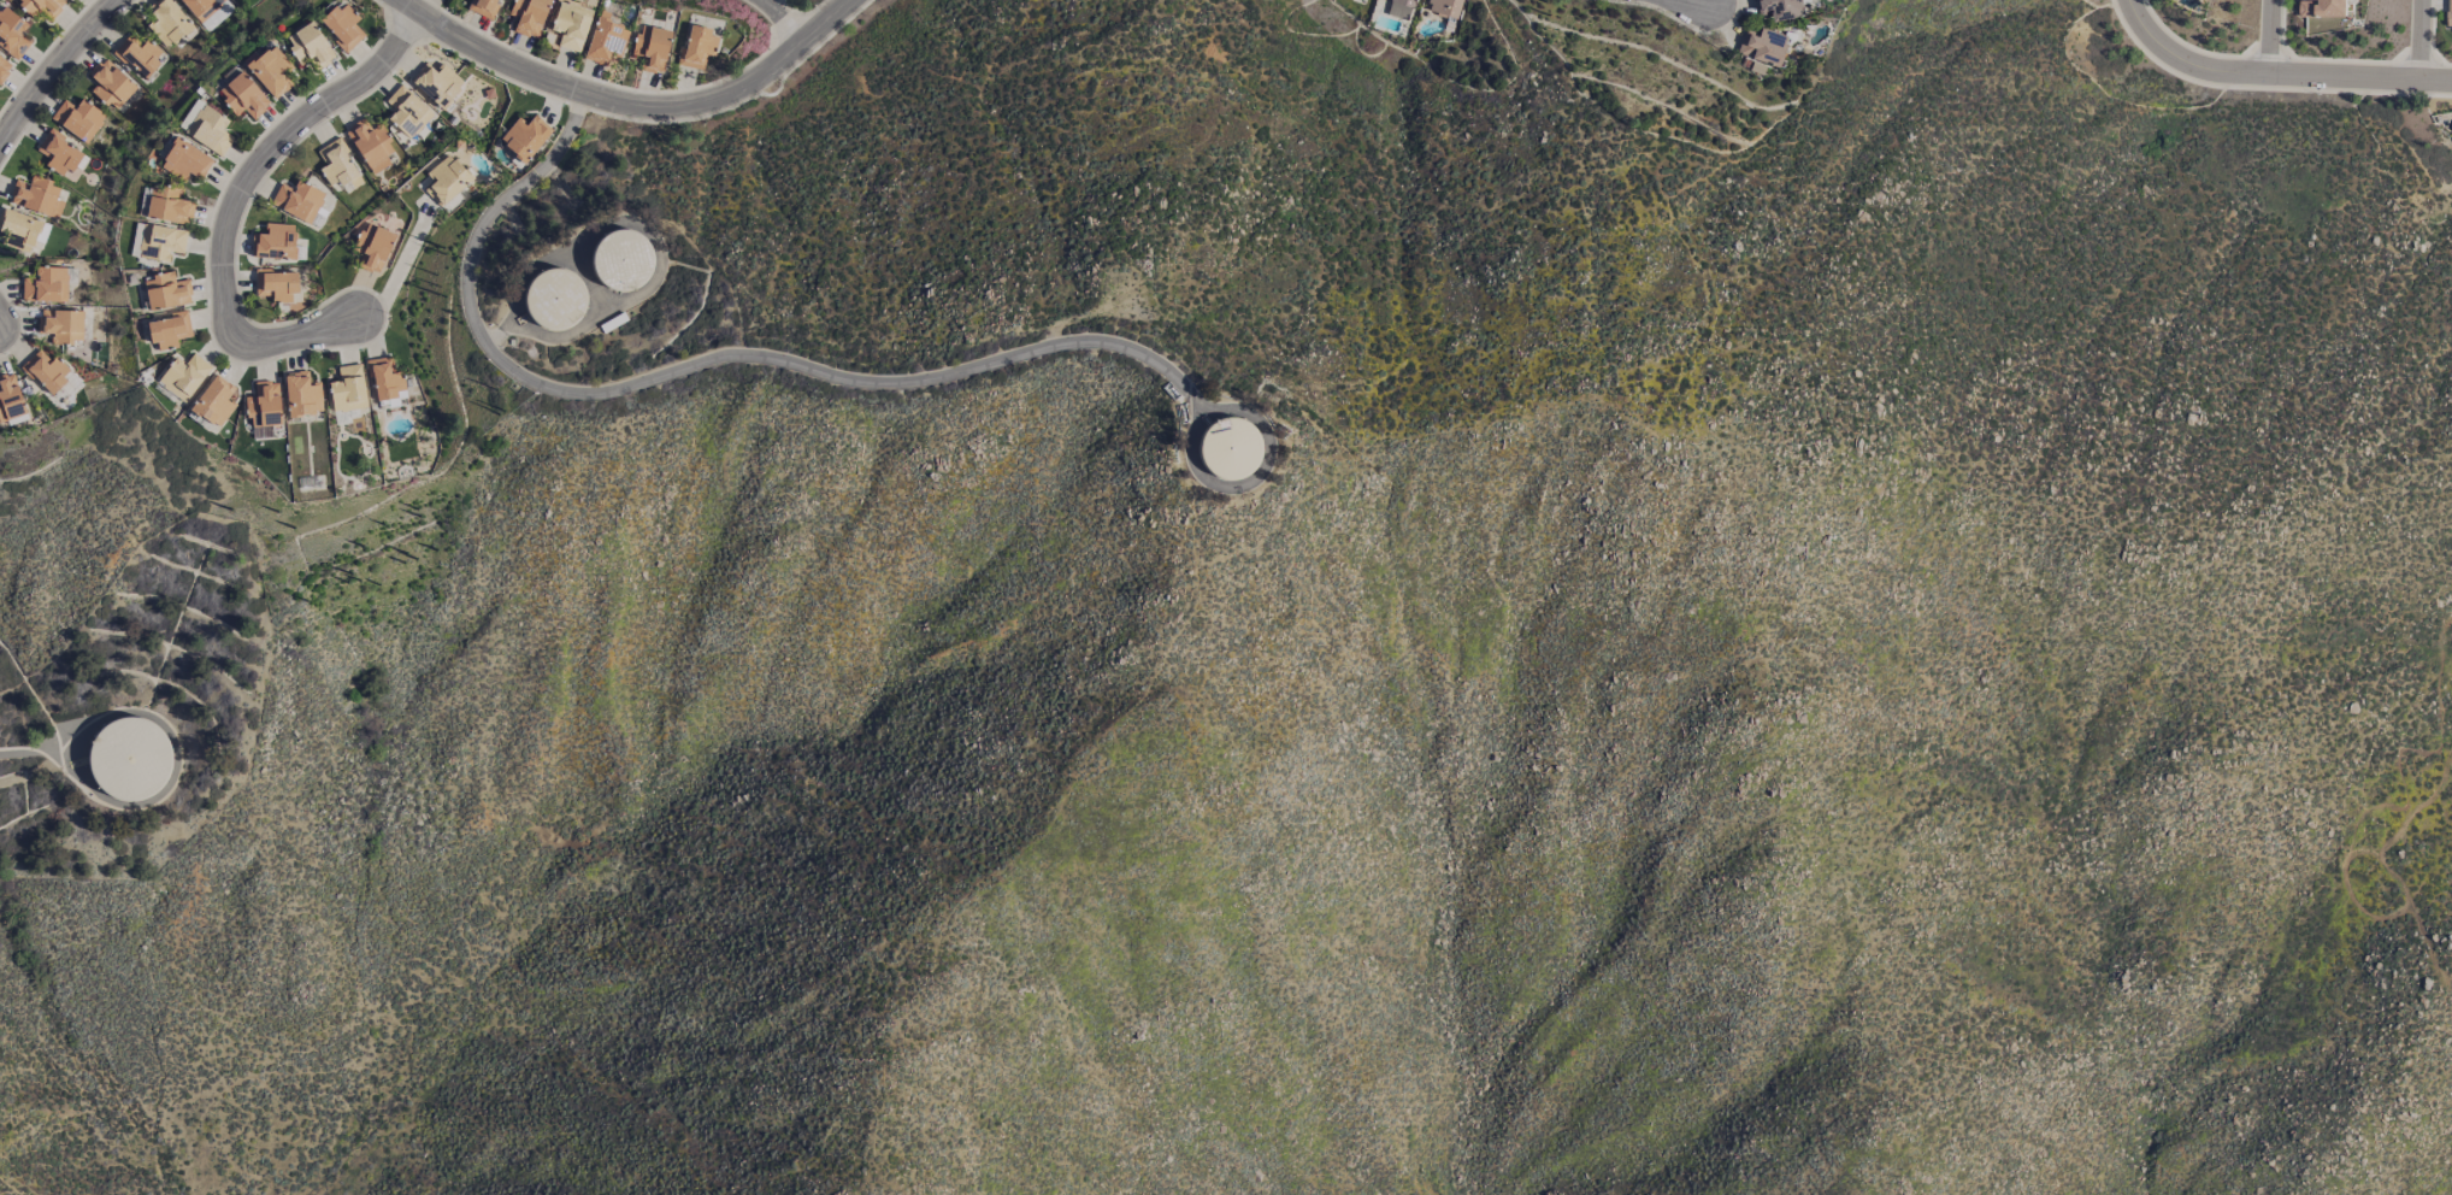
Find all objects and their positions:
building: (37, 6)
building: (201, 7)
building: (482, 7)
building: (1444, 7)
building: (1401, 8)
building: (1779, 8)
building: (2322, 8)
building: (2450, 12)
building: (529, 16)
road: (782, 19)
building: (167, 22)
building: (342, 25)
building: (571, 25)
building: (12, 34)
road: (2270, 37)
building: (606, 41)
road: (2418, 41)
building: (308, 43)
building: (1762, 46)
building: (652, 47)
building: (138, 55)
road: (483, 55)
road: (53, 66)
building: (4, 69)
building: (269, 69)
road: (2257, 76)
road: (2435, 82)
building: (437, 83)
building: (112, 86)
road: (733, 94)
building: (242, 96)
building: (407, 111)
building: (78, 119)
building: (208, 128)
building: (524, 137)
building: (371, 145)
building: (59, 153)
building: (184, 160)
building: (338, 166)
building: (447, 179)
building: (35, 195)
building: (299, 200)
road: (232, 201)
building: (166, 205)
building: (20, 230)
building: (161, 242)
building: (275, 242)
building: (373, 247)
building: (620, 259)
storage tank: (620, 259)
road: (391, 270)
building: (46, 285)
building: (276, 287)
building: (166, 292)
building: (554, 299)
storage tank: (554, 299)
building: (61, 325)
building: (170, 331)
road: (503, 335)
road: (702, 365)
building: (46, 371)
building: (184, 376)
building: (385, 378)
building: (348, 389)
building: (301, 394)
building: (10, 400)
building: (214, 402)
building: (264, 405)
building: (1227, 448)
storage tank: (1227, 448)
road: (40, 753)
building: (128, 758)
storage tank: (128, 758)

